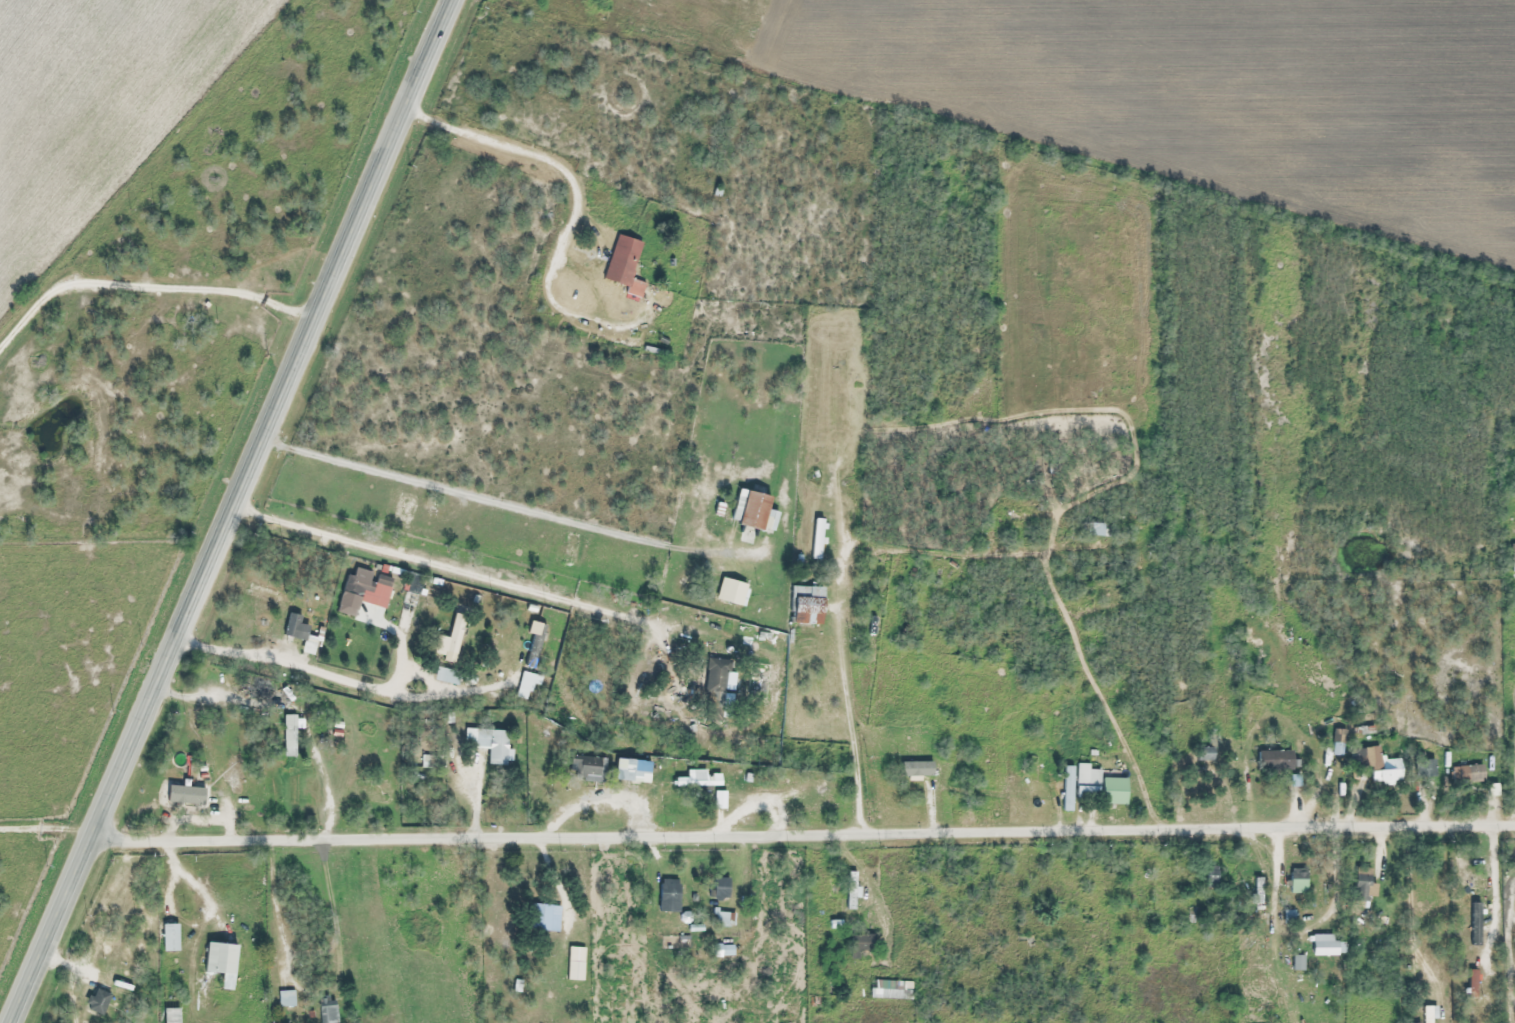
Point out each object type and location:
road: (502, 169)
building: (625, 265)
road: (511, 507)
road: (230, 509)
building: (752, 510)
building: (1093, 530)
road: (941, 553)
building: (1512, 557)
road: (485, 570)
building: (356, 588)
building: (731, 591)
building: (808, 604)
building: (414, 616)
building: (300, 633)
building: (449, 640)
building: (493, 641)
building: (521, 646)
building: (451, 677)
building: (716, 680)
building: (1225, 718)
building: (288, 736)
building: (330, 741)
building: (489, 744)
building: (1204, 754)
building: (1274, 760)
building: (586, 769)
building: (1384, 769)
building: (1424, 769)
building: (632, 770)
building: (234, 773)
building: (1473, 774)
building: (1086, 776)
building: (699, 781)
building: (1033, 782)
building: (1114, 791)
building: (719, 798)
building: (422, 799)
road: (802, 807)
road: (45, 839)
building: (1210, 877)
building: (1298, 881)
building: (1468, 882)
building: (1361, 888)
building: (721, 889)
building: (1256, 895)
building: (669, 896)
road: (193, 904)
building: (545, 918)
building: (860, 945)
building: (1326, 946)
building: (221, 962)
building: (575, 964)
building: (1483, 977)
building: (285, 999)
building: (98, 1001)
building: (326, 1009)
building: (1426, 1014)
building: (532, 1022)

